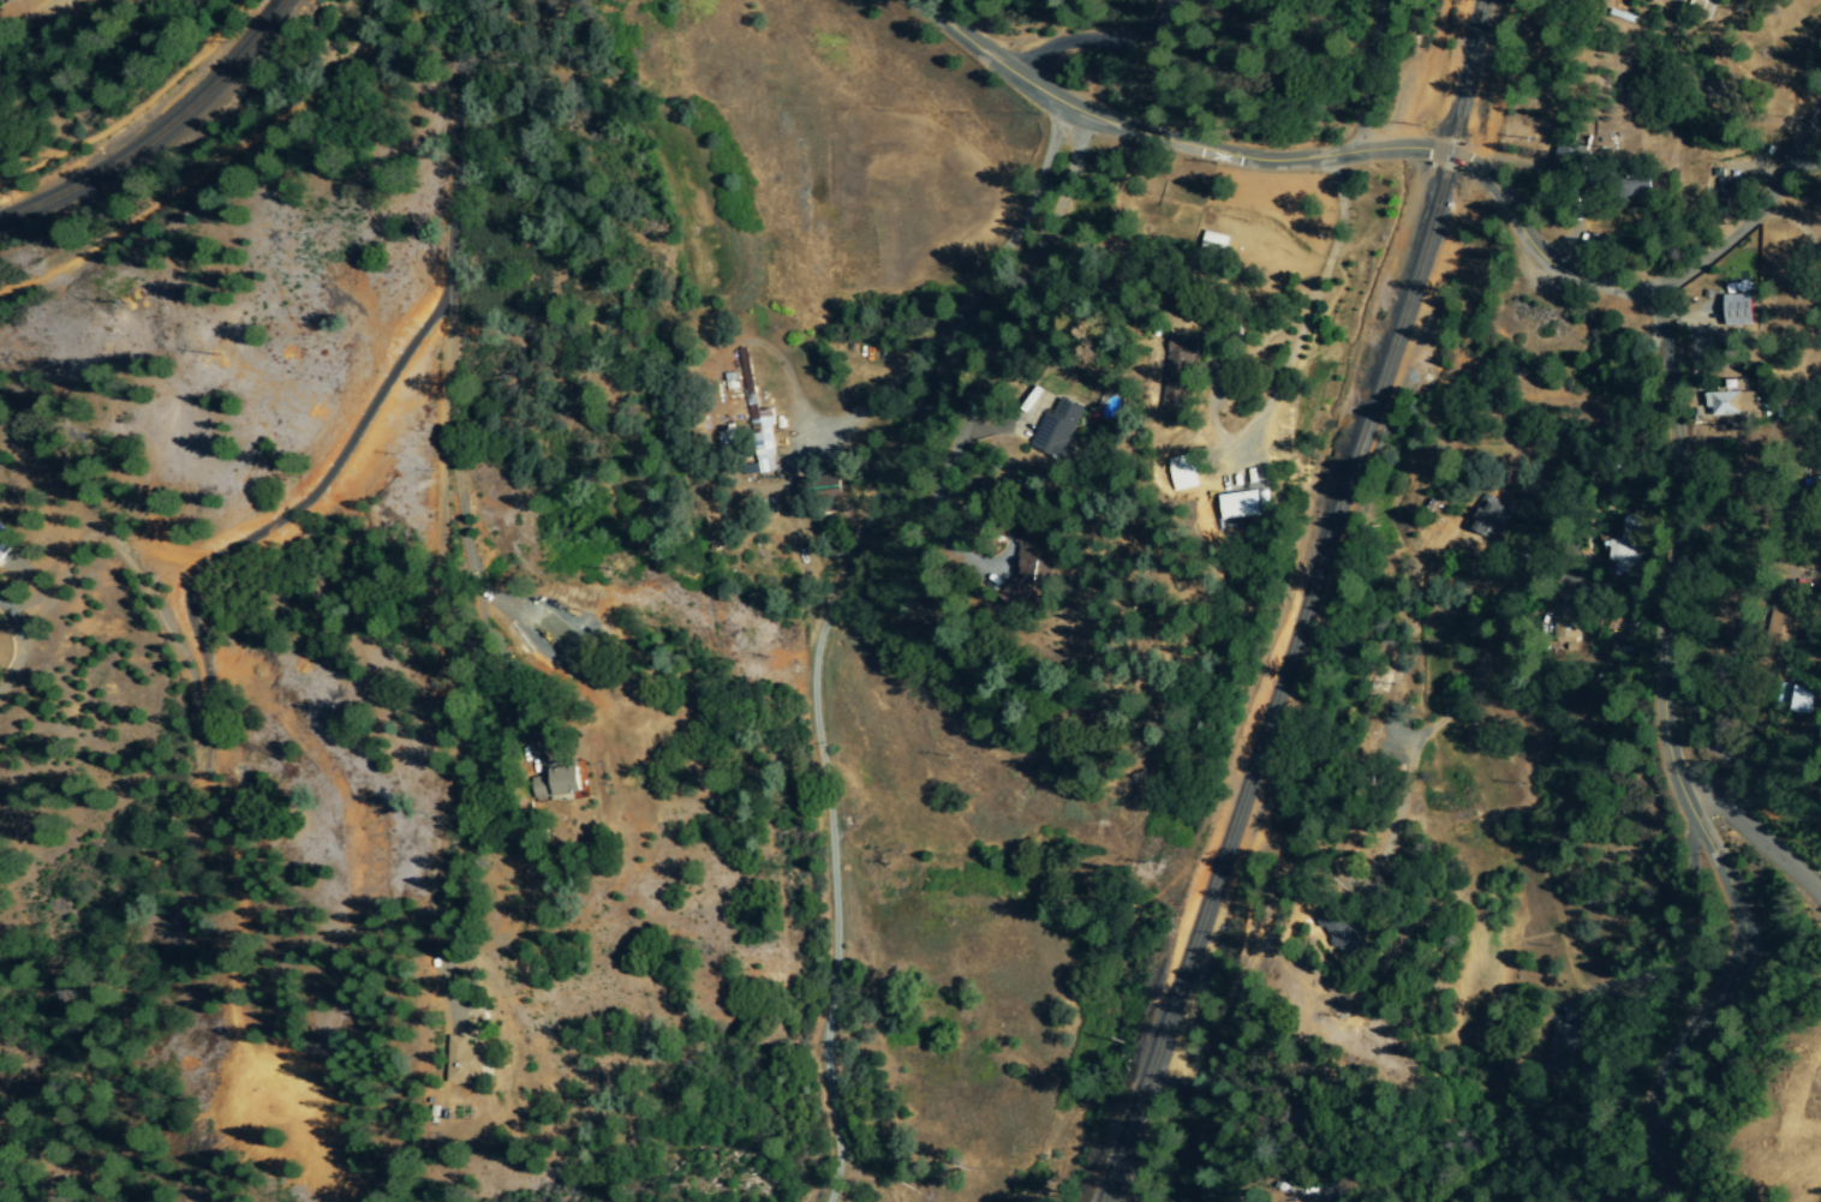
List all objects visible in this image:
road: (29, 16)
road: (1095, 40)
road: (1365, 76)
road: (132, 108)
railway: (161, 133)
road: (1817, 140)
building: (1564, 160)
road: (208, 168)
road: (1742, 226)
building: (1213, 245)
road: (446, 300)
building: (1738, 311)
road: (1671, 351)
building: (1180, 375)
road: (1216, 379)
road: (945, 399)
building: (1732, 400)
road: (880, 413)
building: (756, 423)
building: (1062, 426)
building: (724, 436)
building: (1181, 472)
building: (1241, 504)
building: (1486, 516)
building: (5, 542)
road: (1088, 544)
building: (1624, 545)
road: (1548, 551)
building: (1043, 557)
railway: (1309, 605)
building: (1563, 612)
road: (1315, 694)
building: (1796, 699)
road: (1713, 743)
building: (560, 782)
road: (1761, 844)
building: (1339, 931)
road: (793, 970)
building: (1558, 1048)
building: (462, 1063)

